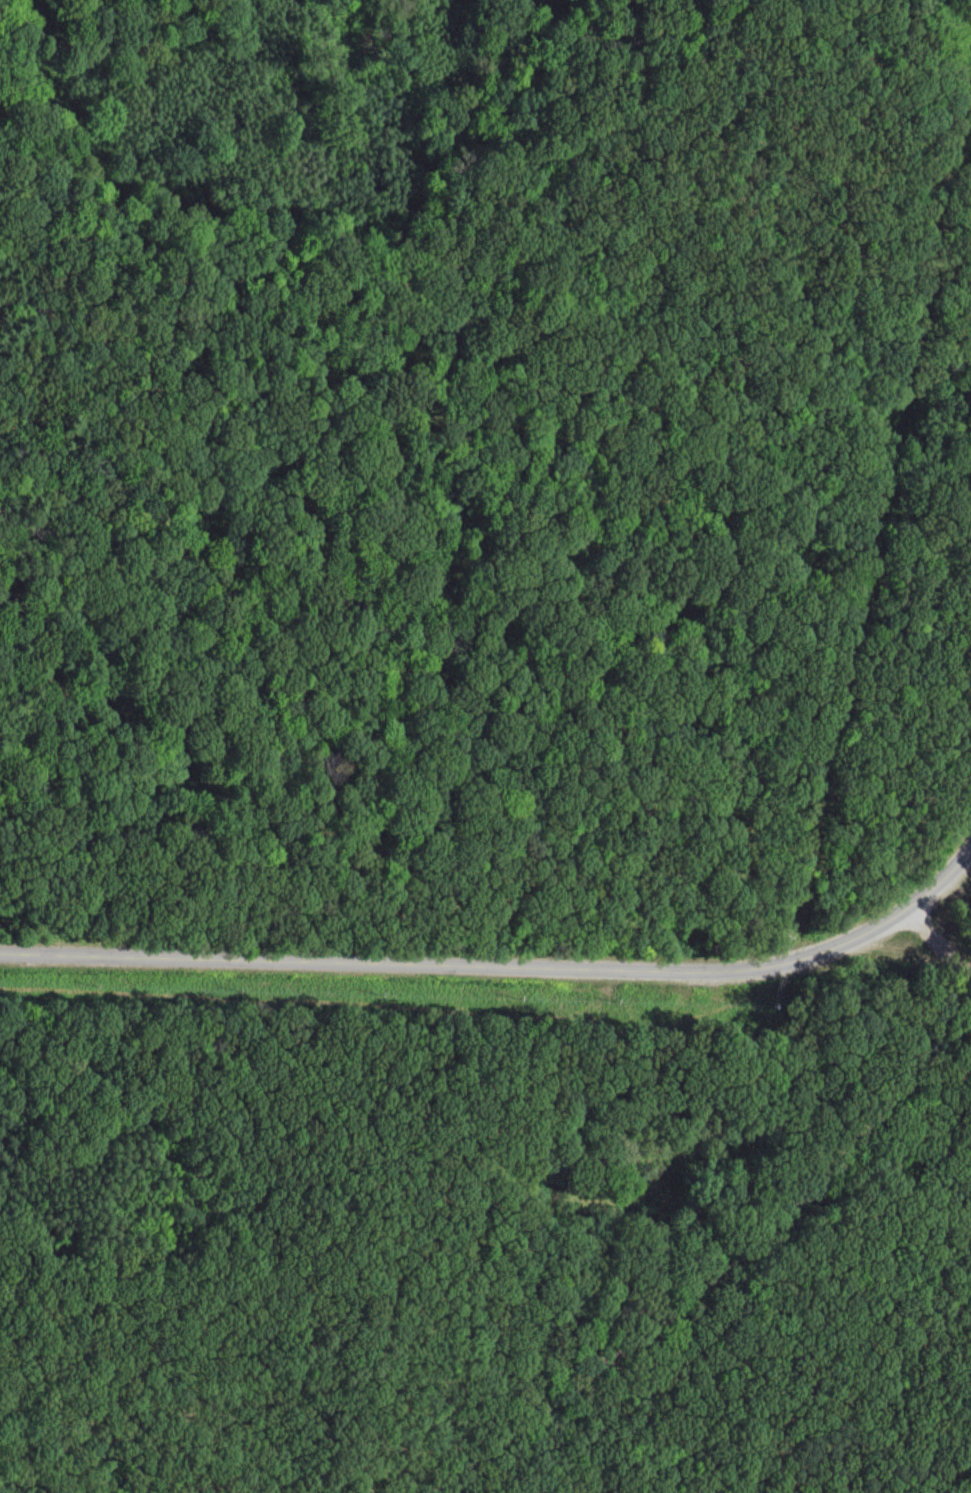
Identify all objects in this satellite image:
road: (535, 528)
road: (933, 886)
road: (957, 952)
road: (947, 957)
road: (450, 963)
road: (711, 1276)

